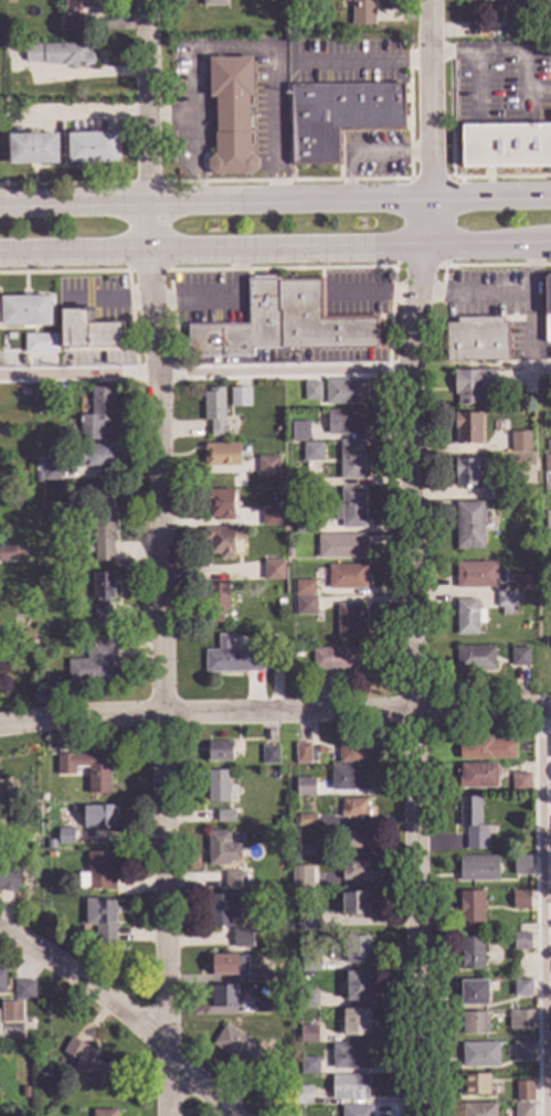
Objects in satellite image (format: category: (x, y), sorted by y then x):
building: (497, 1)
building: (213, 3)
building: (362, 12)
building: (74, 14)
building: (513, 31)
road: (236, 52)
road: (508, 54)
building: (59, 55)
parking lot: (543, 72)
road: (479, 87)
parking lot: (464, 91)
parking lot: (502, 91)
road: (147, 99)
road: (528, 104)
building: (231, 115)
road: (173, 117)
building: (339, 117)
building: (507, 146)
building: (93, 147)
building: (33, 148)
road: (349, 196)
road: (73, 200)
road: (349, 248)
road: (74, 252)
road: (474, 293)
building: (547, 295)
road: (532, 306)
building: (24, 311)
building: (283, 323)
building: (87, 331)
building: (10, 338)
building: (476, 340)
building: (40, 343)
building: (547, 344)
road: (531, 365)
road: (204, 372)
building: (471, 385)
building: (311, 392)
building: (343, 392)
building: (23, 393)
building: (41, 393)
building: (240, 397)
building: (214, 413)
building: (97, 415)
building: (343, 423)
building: (467, 428)
building: (299, 432)
building: (520, 442)
building: (312, 453)
building: (221, 455)
building: (95, 457)
building: (350, 461)
building: (547, 464)
building: (267, 467)
building: (51, 472)
building: (468, 472)
building: (491, 492)
building: (219, 504)
building: (351, 508)
building: (272, 518)
building: (548, 520)
building: (304, 523)
building: (469, 525)
building: (103, 529)
building: (221, 542)
building: (340, 546)
building: (89, 551)
building: (288, 553)
building: (11, 554)
road: (412, 556)
building: (262, 557)
building: (274, 571)
building: (475, 575)
building: (347, 577)
building: (520, 583)
building: (304, 588)
building: (102, 596)
building: (216, 603)
building: (508, 603)
building: (306, 607)
building: (468, 617)
building: (350, 621)
building: (40, 644)
road: (160, 657)
building: (519, 657)
building: (232, 658)
building: (475, 658)
building: (32, 659)
building: (339, 659)
building: (94, 663)
road: (275, 710)
building: (550, 746)
building: (486, 750)
building: (220, 752)
building: (352, 752)
building: (301, 754)
building: (268, 756)
building: (88, 769)
building: (478, 776)
building: (349, 778)
building: (520, 783)
building: (218, 787)
building: (304, 788)
building: (44, 799)
building: (353, 809)
building: (224, 817)
building: (96, 818)
building: (18, 819)
building: (305, 821)
building: (471, 823)
building: (65, 838)
building: (354, 840)
building: (50, 846)
building: (221, 850)
building: (304, 851)
building: (50, 857)
building: (520, 865)
building: (477, 870)
building: (354, 871)
building: (97, 874)
building: (9, 878)
building: (239, 882)
building: (306, 882)
building: (520, 900)
building: (353, 904)
building: (470, 907)
road: (542, 911)
building: (219, 912)
building: (102, 921)
building: (309, 922)
building: (241, 939)
building: (301, 940)
building: (521, 943)
building: (357, 950)
building: (470, 954)
building: (309, 963)
building: (237, 969)
building: (2, 982)
building: (357, 988)
building: (521, 988)
building: (23, 991)
building: (473, 993)
building: (223, 997)
building: (307, 1000)
building: (259, 1007)
building: (11, 1012)
road: (124, 1013)
building: (520, 1020)
building: (356, 1023)
building: (473, 1024)
building: (308, 1035)
building: (522, 1051)
building: (241, 1052)
building: (479, 1055)
building: (349, 1057)
building: (86, 1066)
building: (308, 1066)
building: (475, 1085)
building: (349, 1088)
building: (523, 1092)
building: (301, 1096)
building: (478, 1109)
building: (522, 1110)
building: (356, 1112)
building: (104, 1114)

